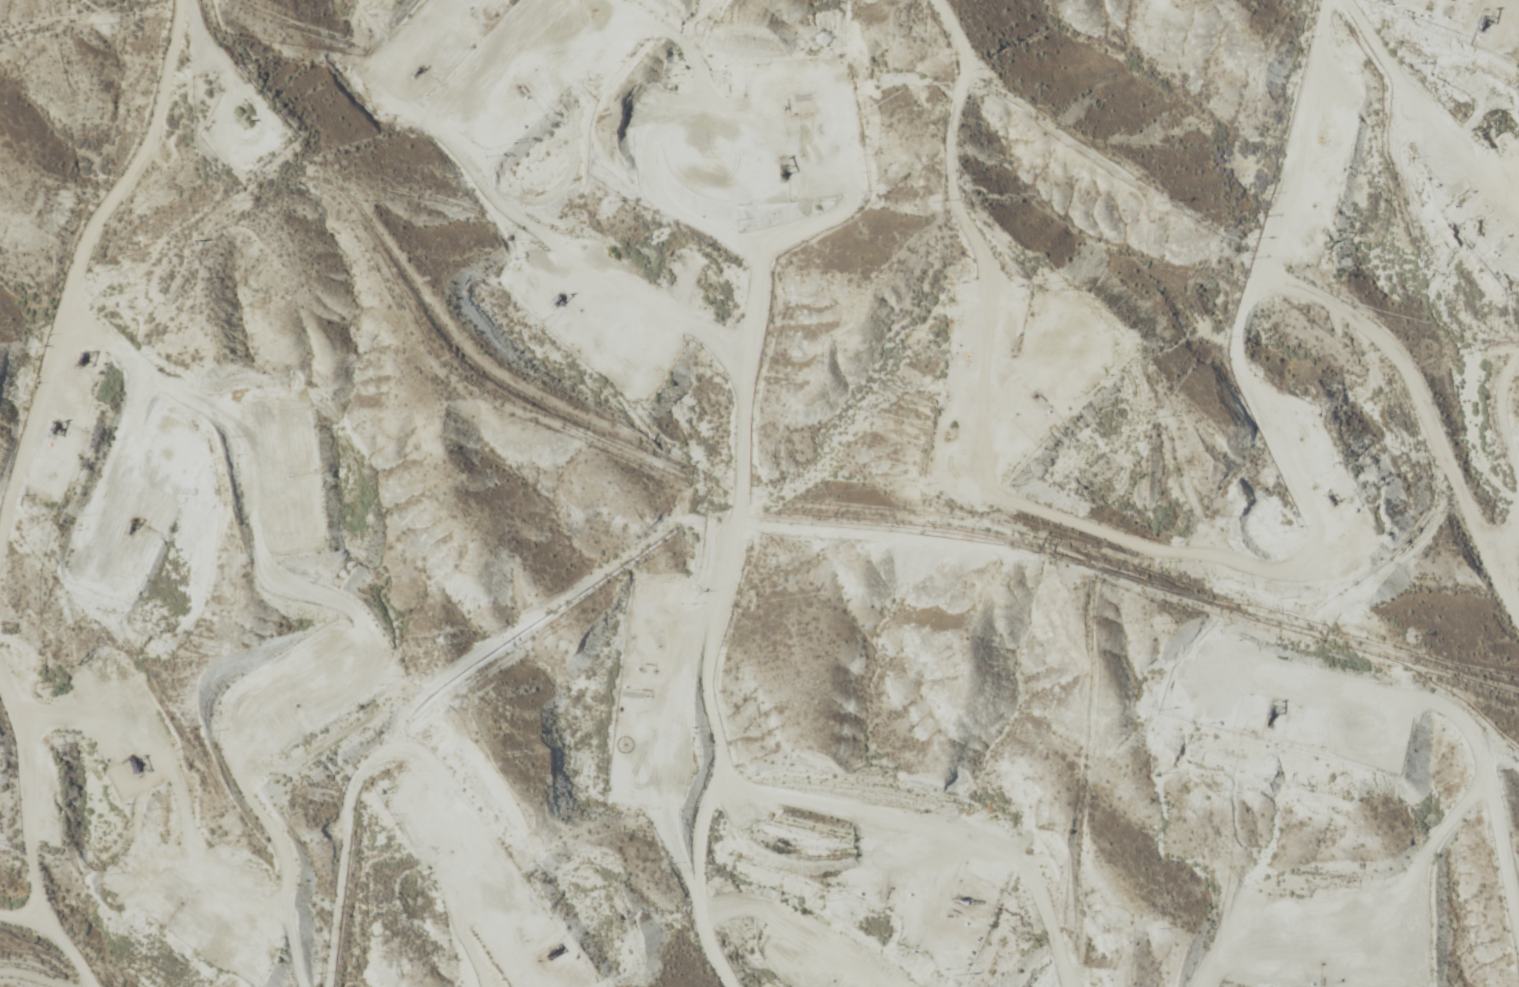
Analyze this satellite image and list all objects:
road: (88, 284)
road: (1252, 551)
road: (19, 846)

